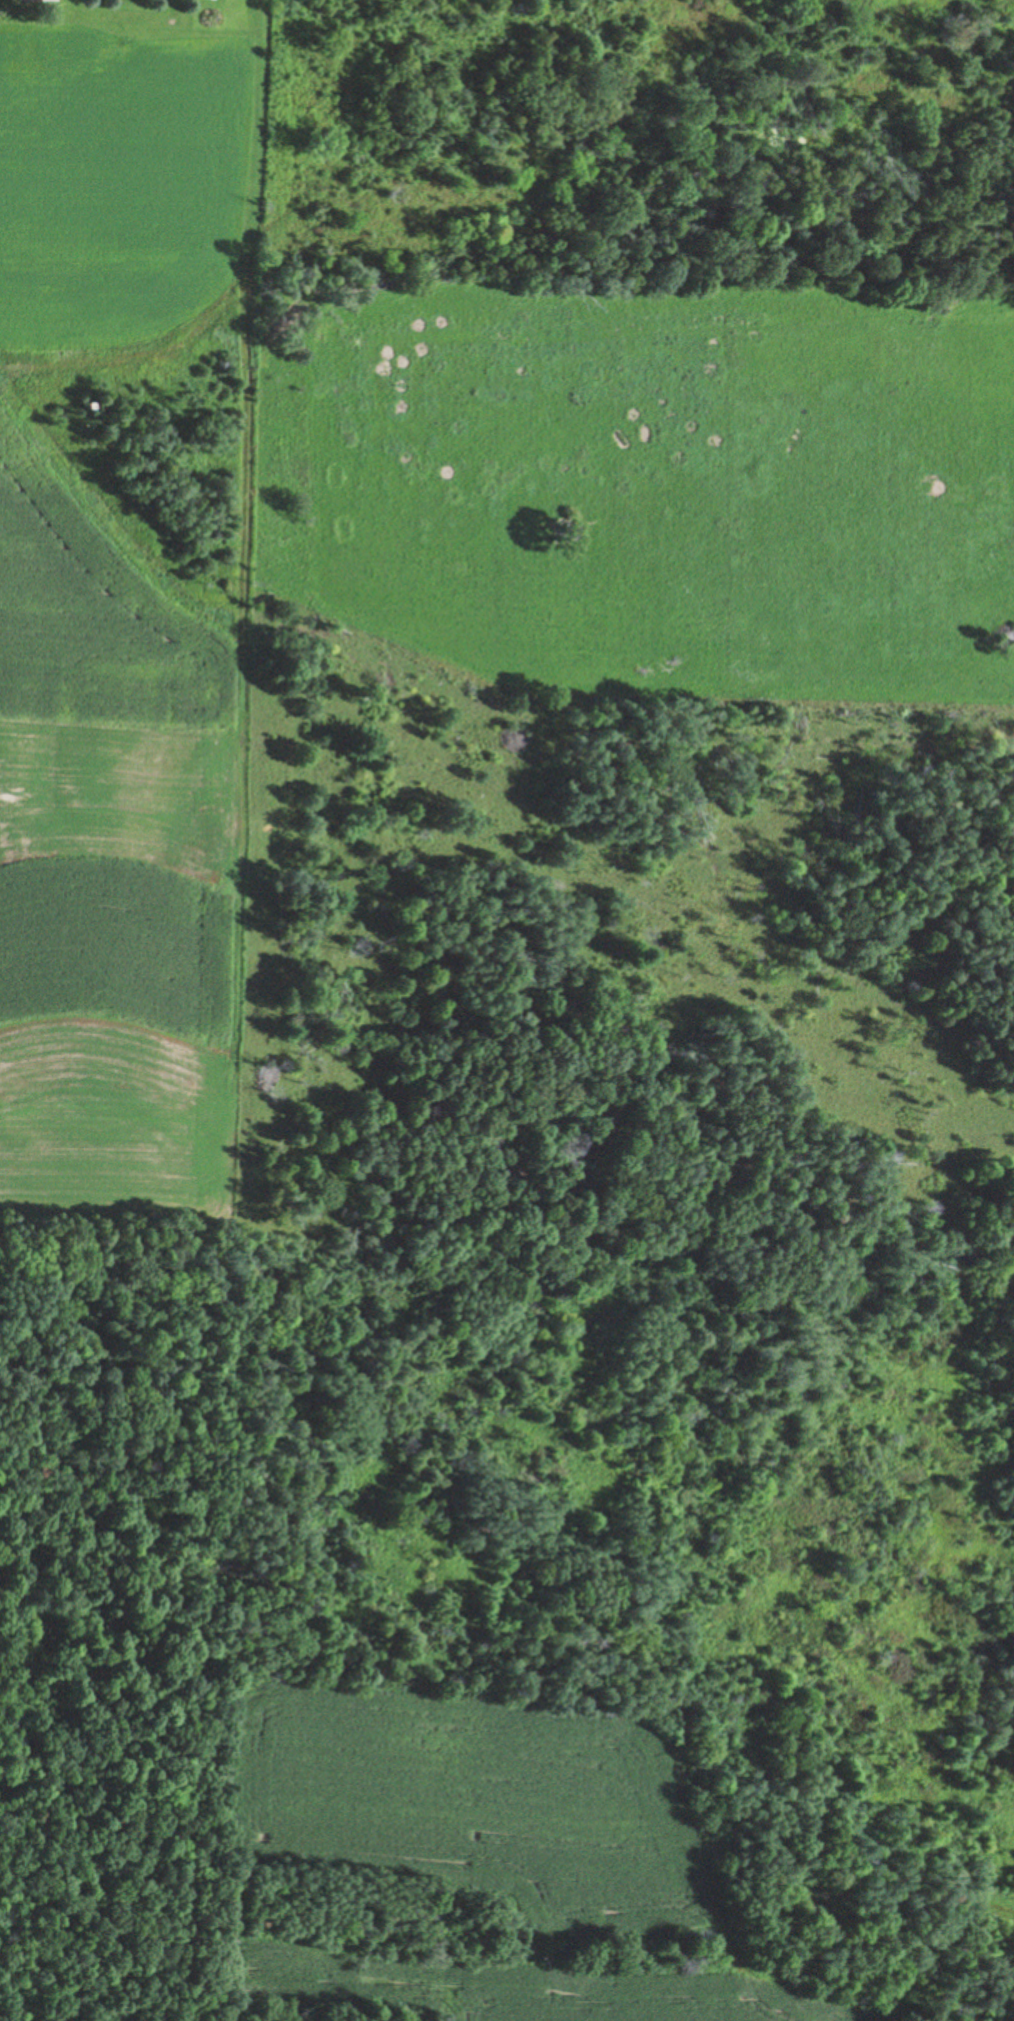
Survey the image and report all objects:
building: (36, 1)

